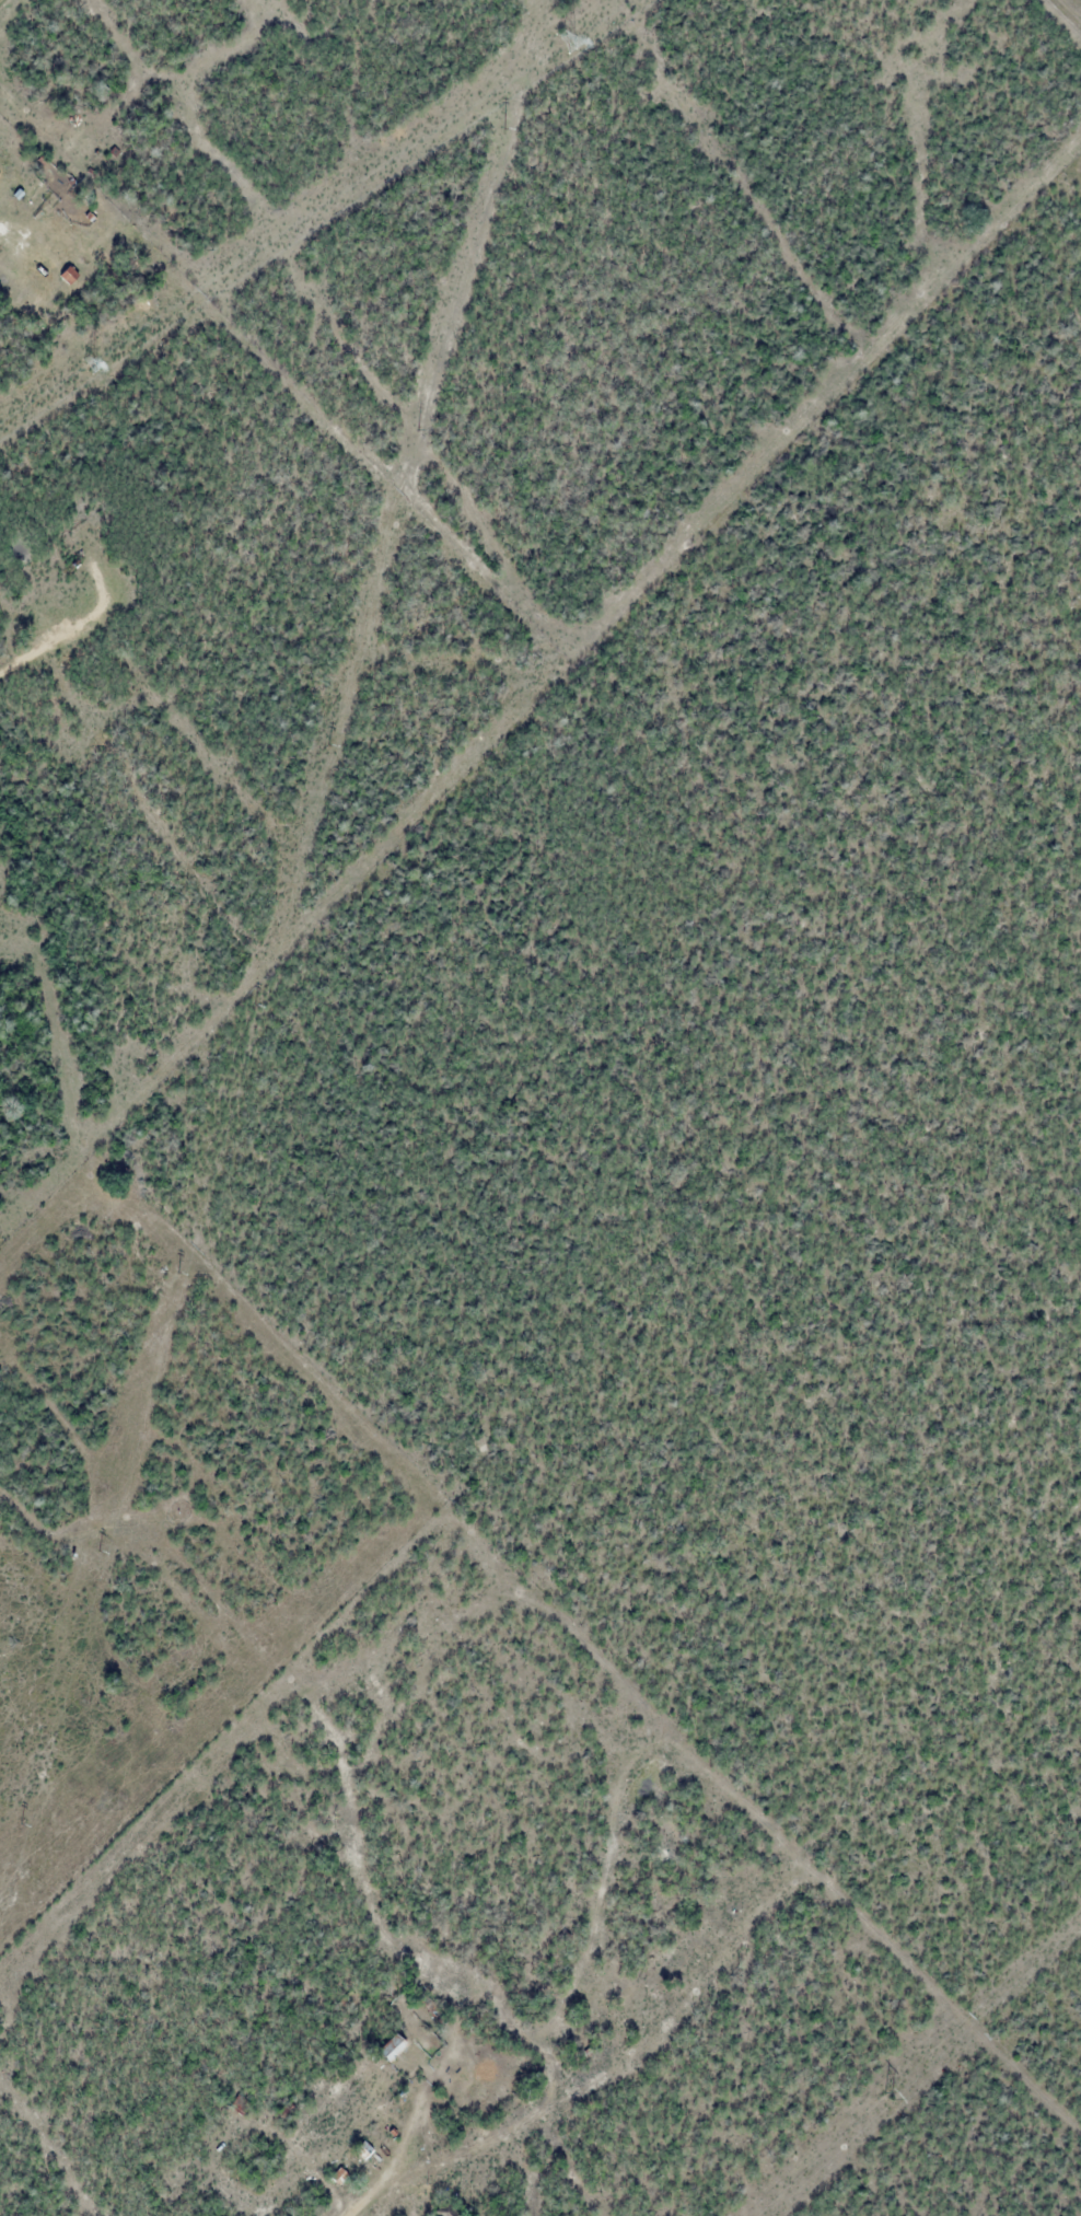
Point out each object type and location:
power tower: (563, 42)
building: (2, 169)
building: (69, 275)
power tower: (88, 362)
road: (79, 631)
building: (393, 2046)
power tower: (887, 2096)
road: (340, 2196)
building: (446, 2211)
road: (349, 2213)
road: (354, 2213)

